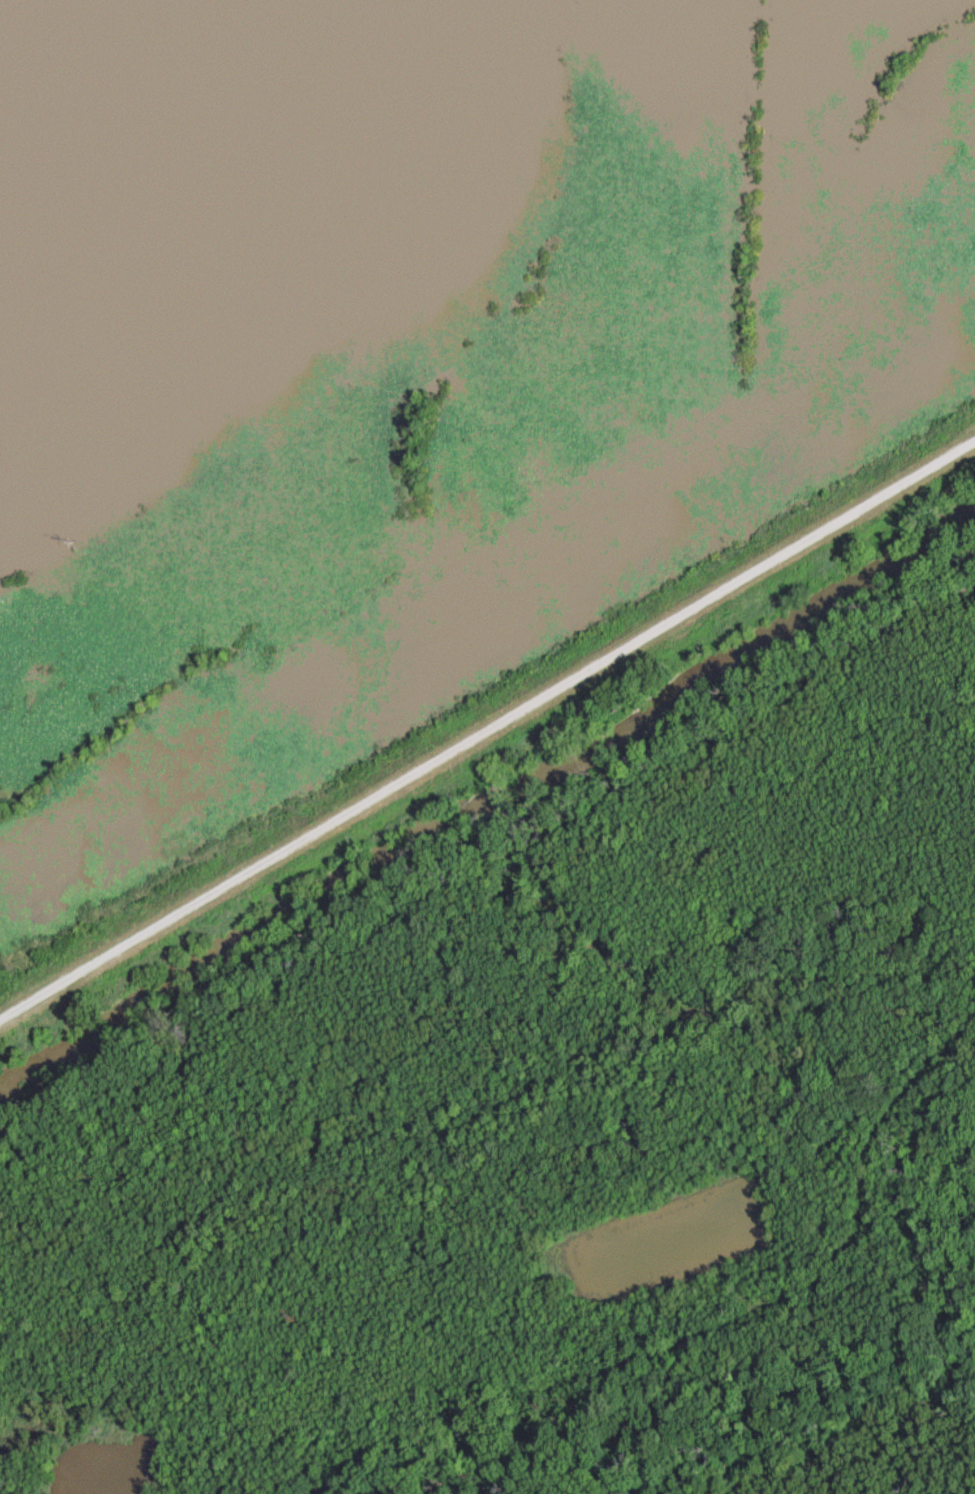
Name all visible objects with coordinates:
road: (487, 727)

